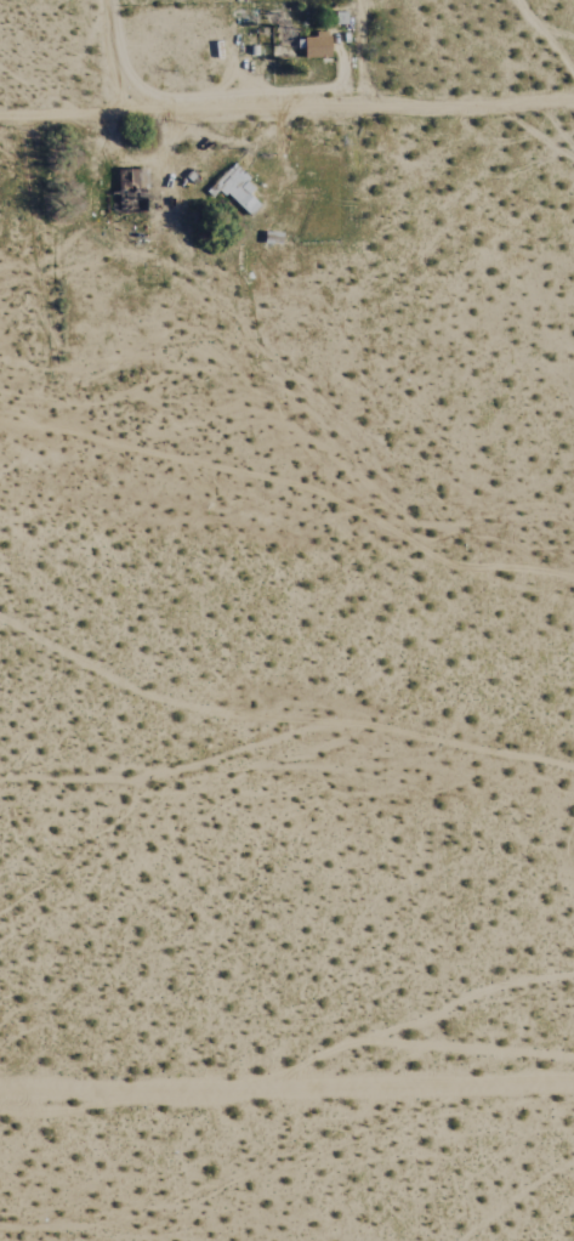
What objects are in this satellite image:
building: (318, 46)
road: (104, 55)
road: (358, 55)
road: (286, 109)
building: (235, 189)
building: (130, 193)
road: (286, 1086)

